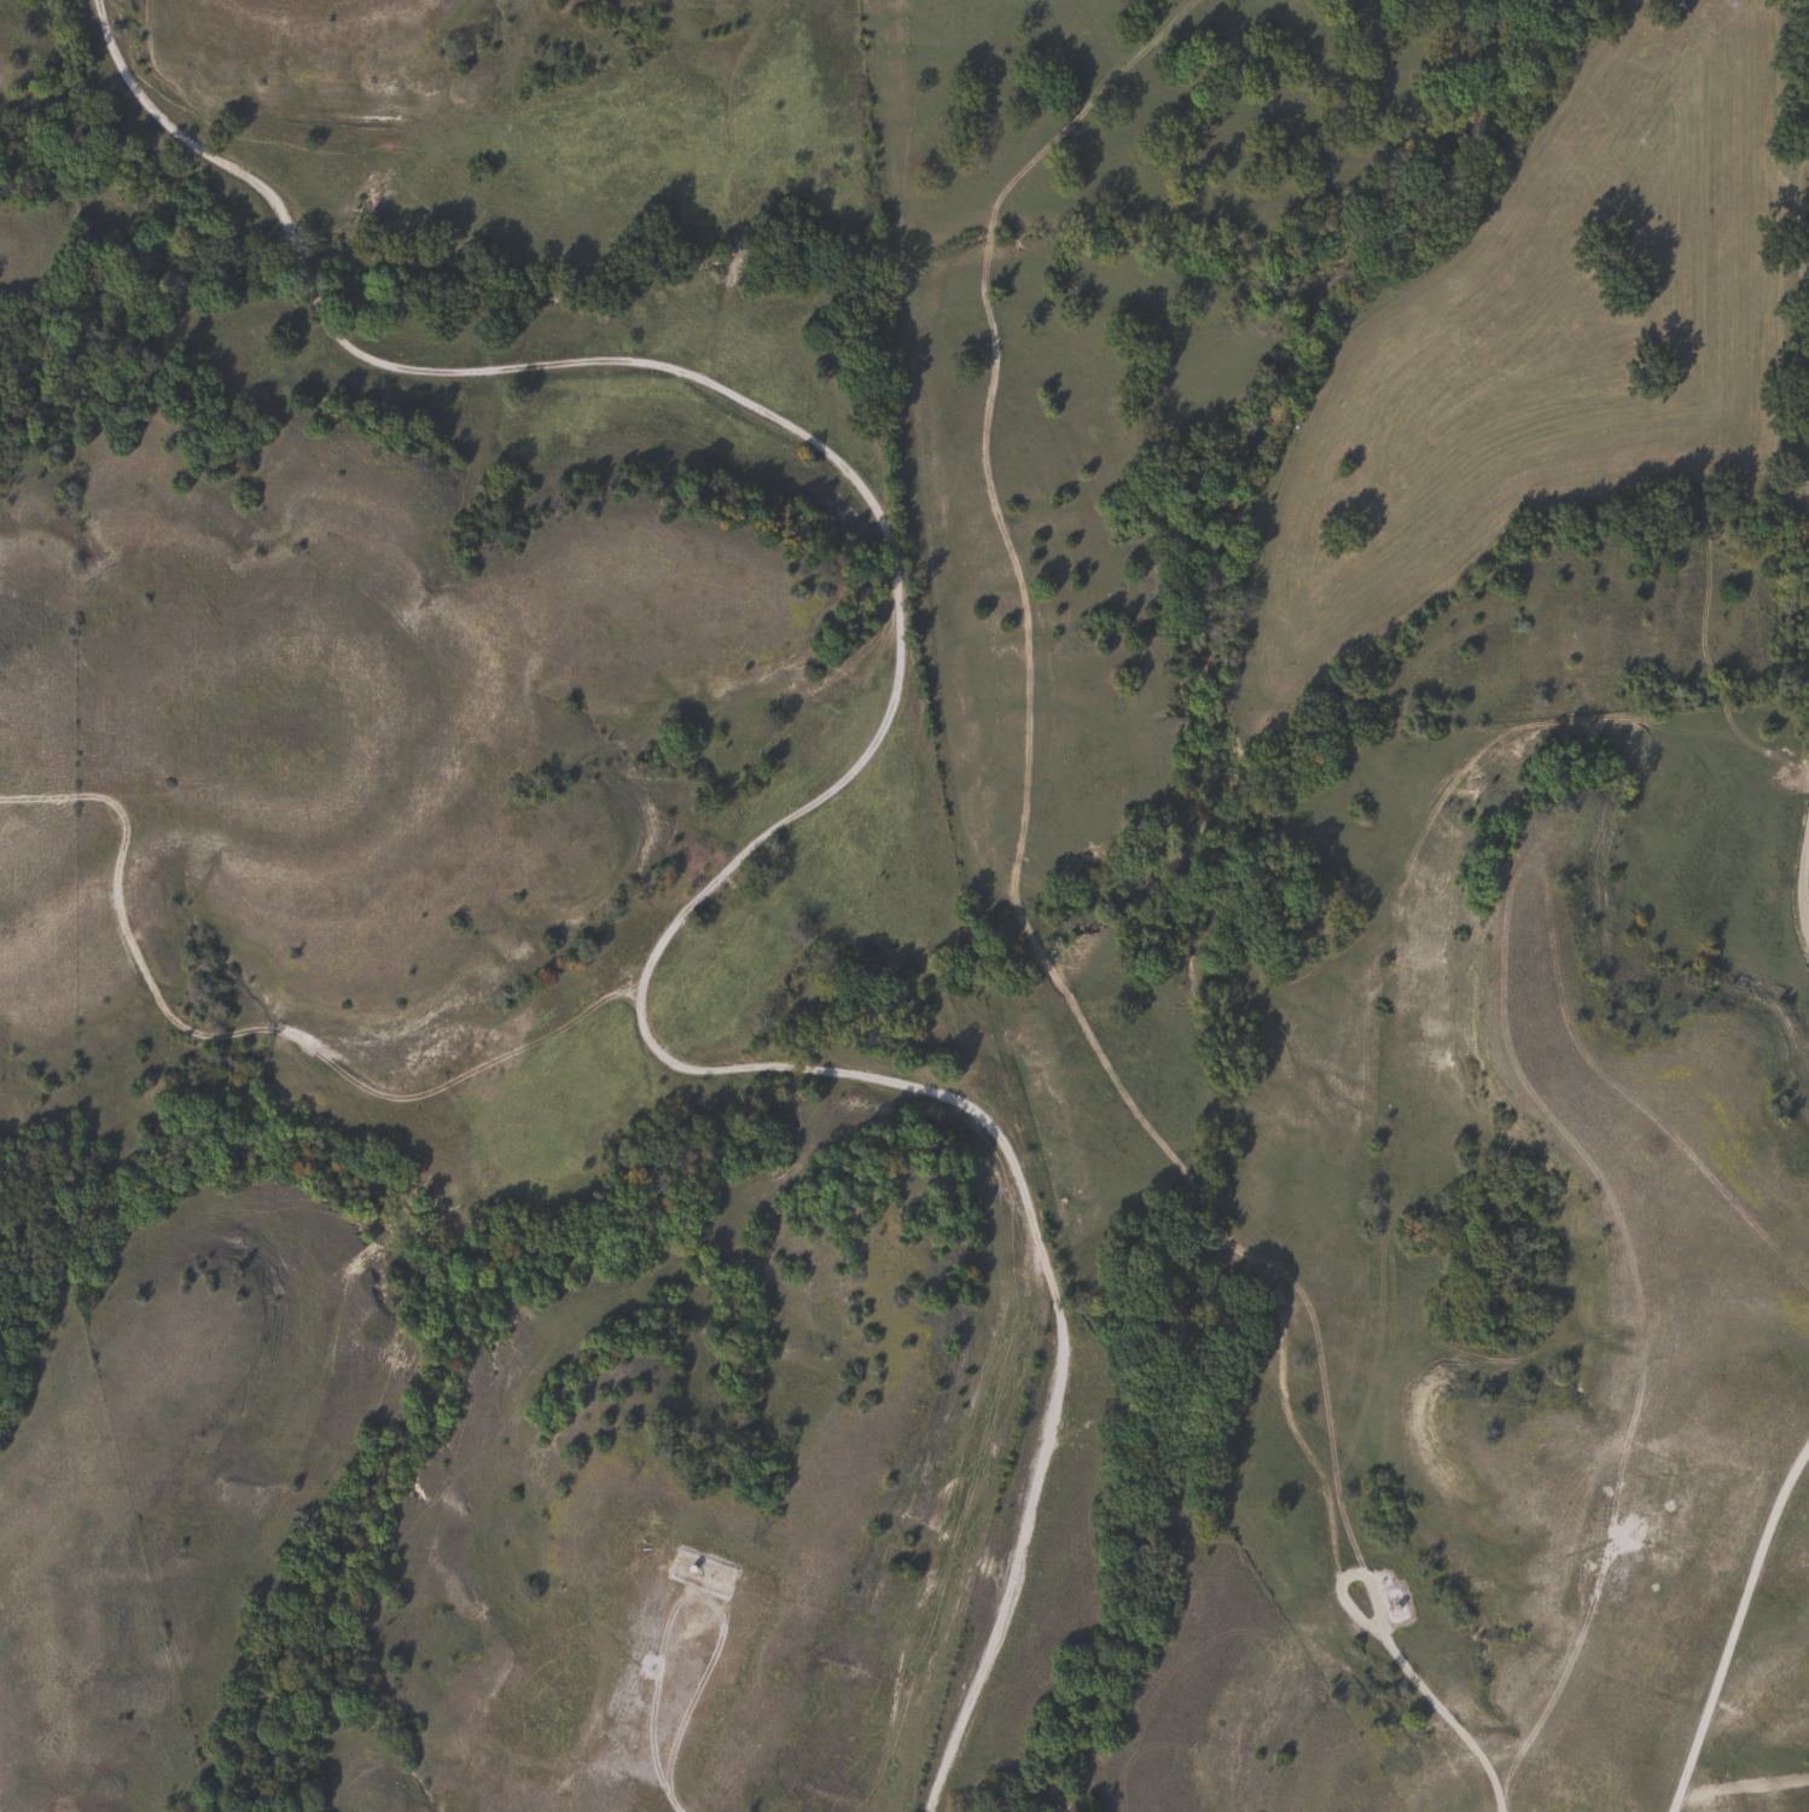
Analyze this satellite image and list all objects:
road: (798, 815)
road: (261, 1032)
road: (1734, 1627)

